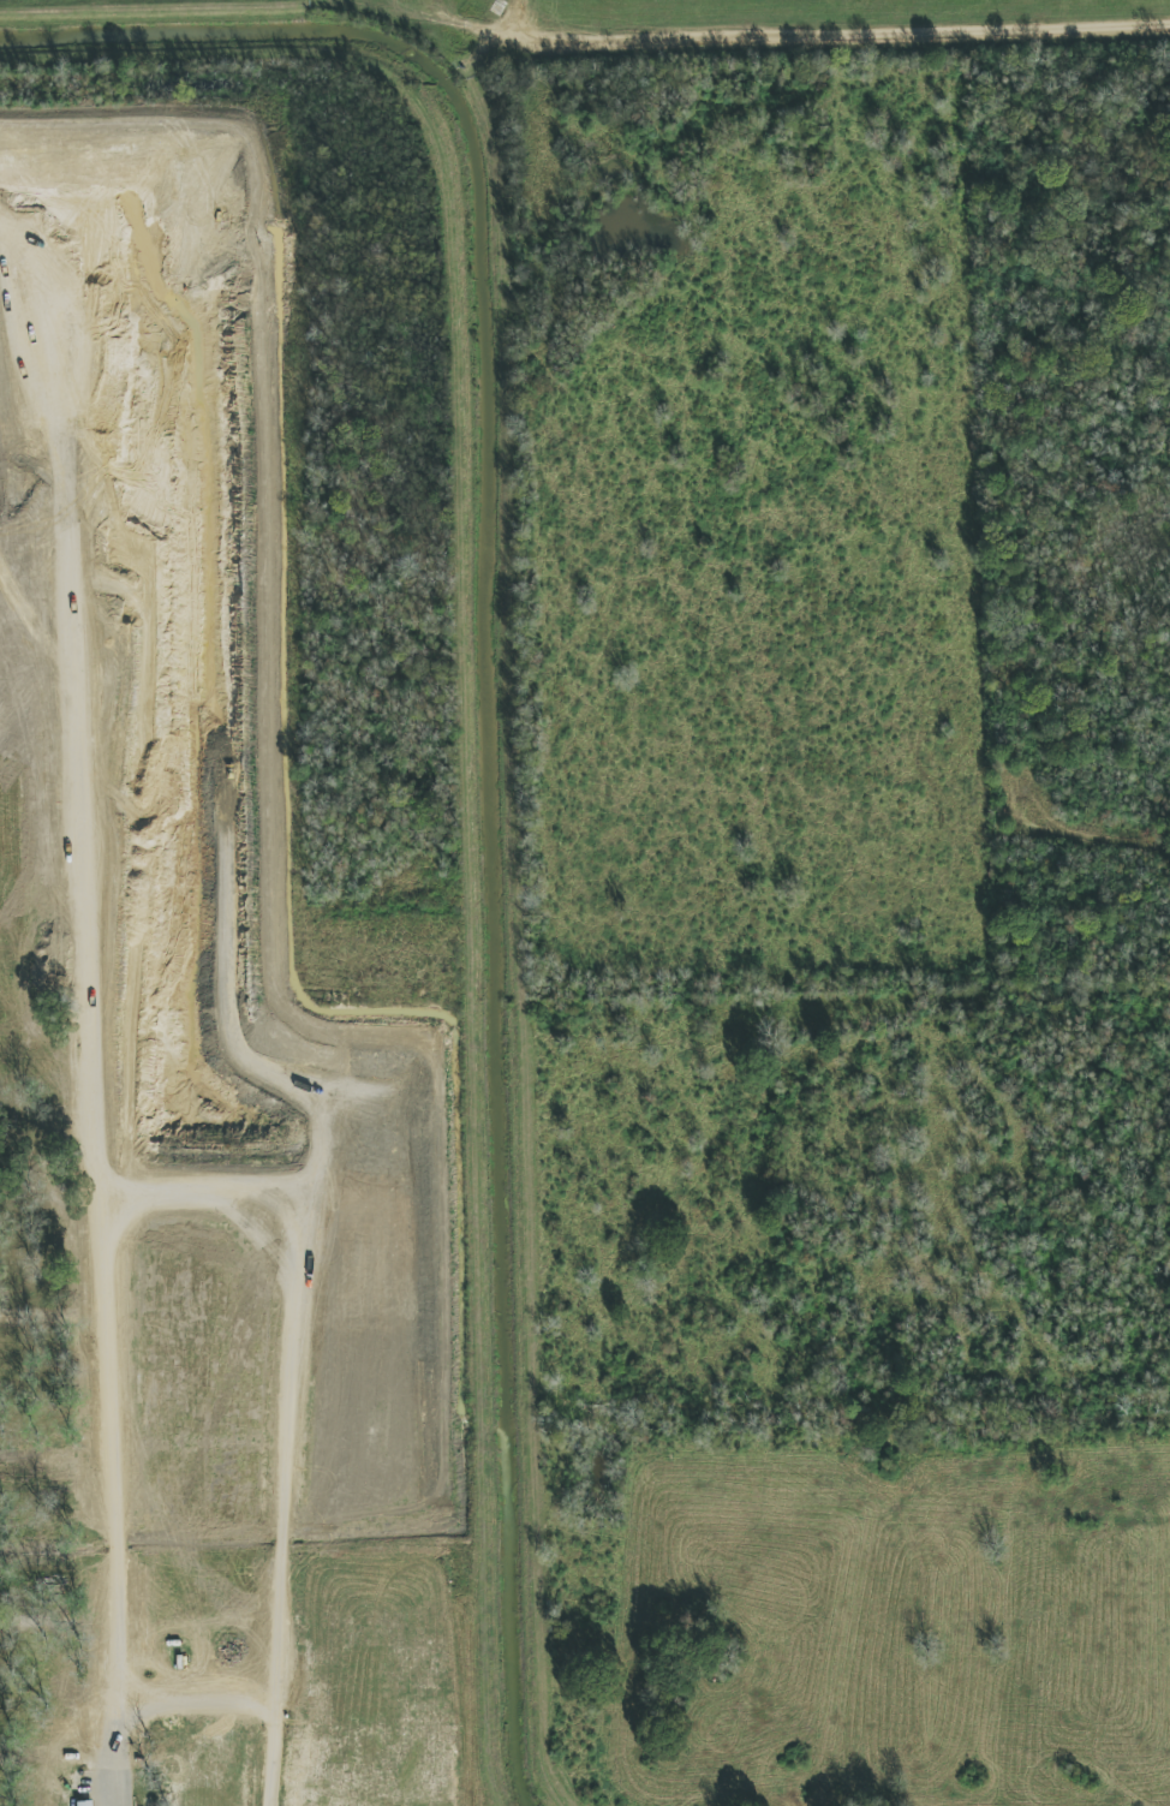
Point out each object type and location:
road: (829, 58)
road: (527, 941)

